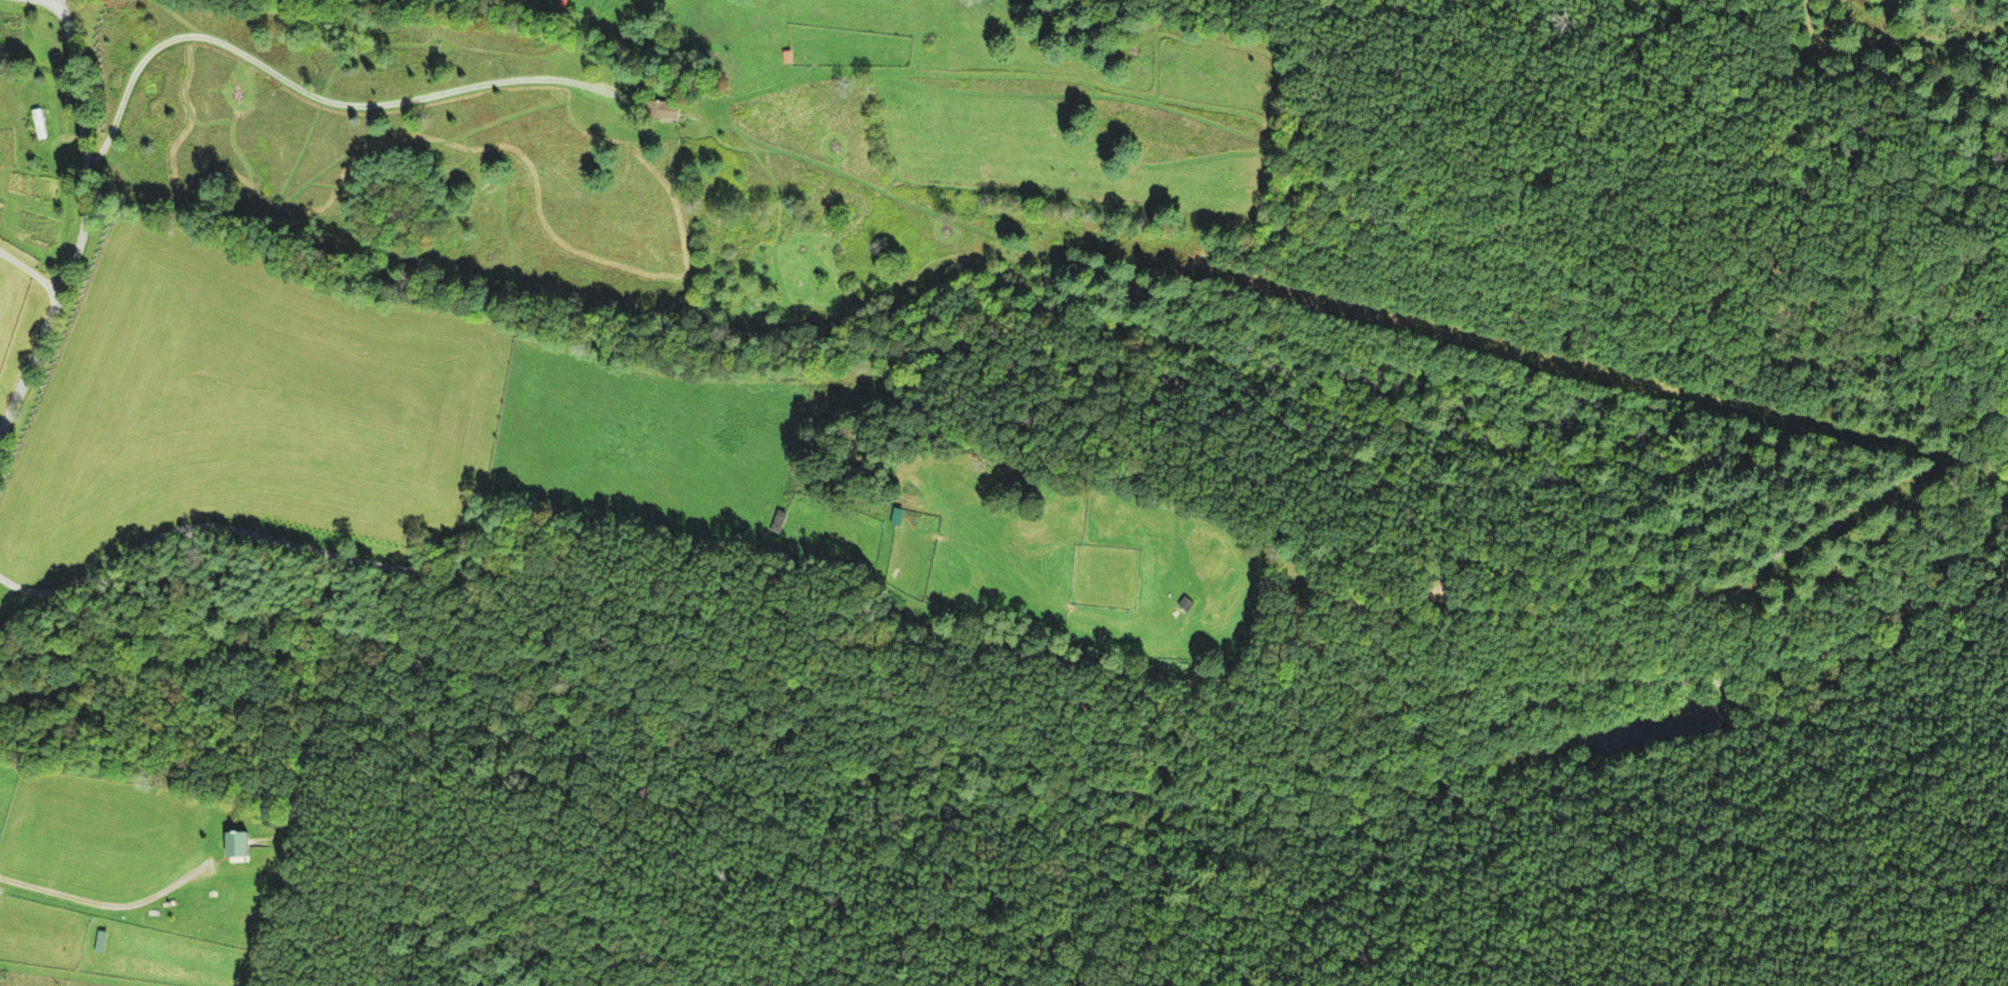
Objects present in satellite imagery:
road: (53, 3)
road: (66, 3)
road: (304, 93)
building: (665, 111)
building: (38, 125)
road: (77, 221)
road: (28, 273)
building: (897, 519)
building: (779, 524)
road: (1014, 652)

